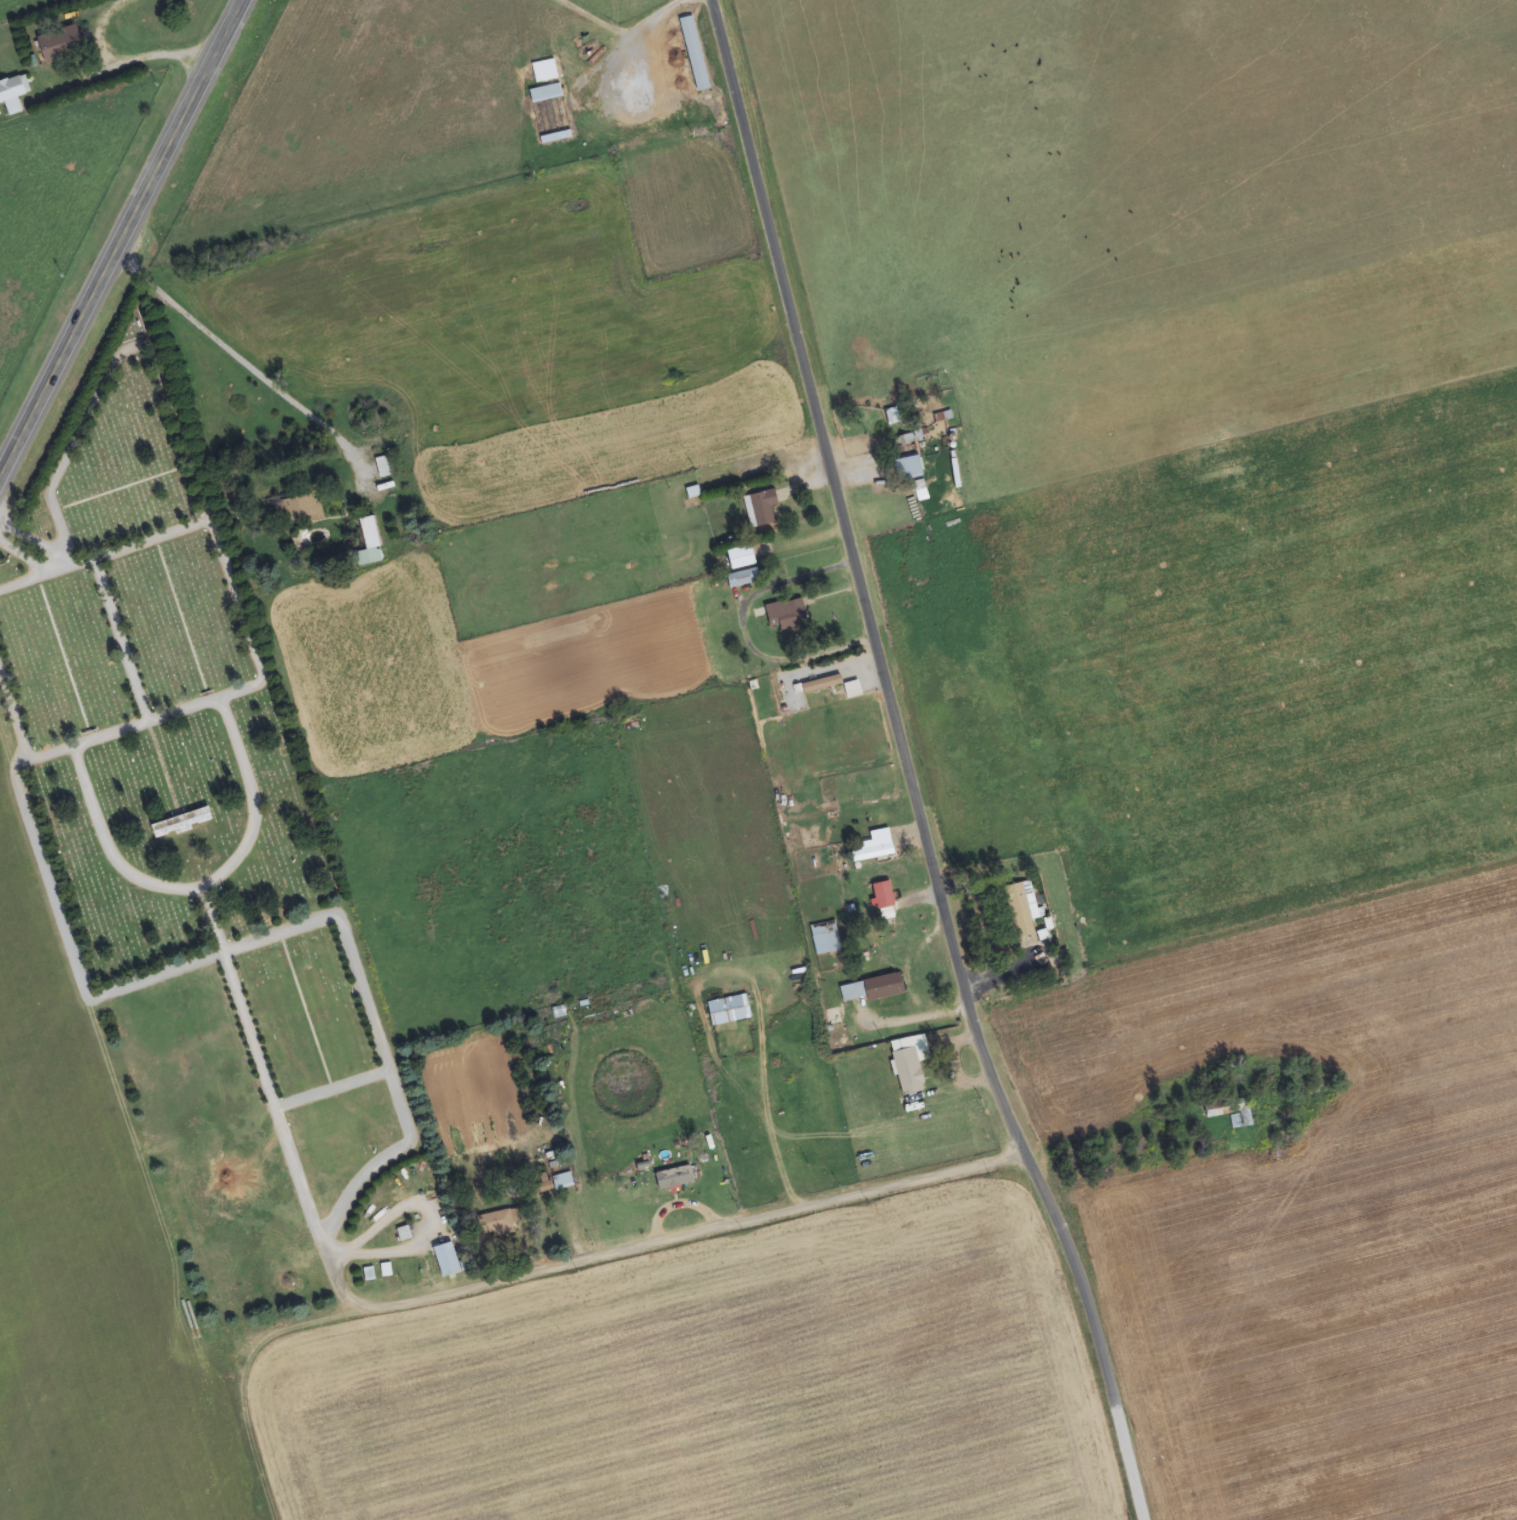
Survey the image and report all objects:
building: (65, 44)
building: (695, 55)
building: (545, 72)
building: (14, 94)
building: (546, 94)
road: (121, 237)
road: (86, 426)
building: (385, 467)
building: (909, 468)
building: (761, 508)
building: (299, 510)
road: (213, 523)
building: (370, 533)
building: (742, 557)
road: (100, 569)
building: (744, 578)
road: (48, 587)
building: (787, 614)
road: (136, 641)
building: (822, 684)
building: (853, 690)
road: (18, 702)
road: (151, 719)
road: (925, 762)
building: (183, 823)
building: (874, 854)
park: (209, 876)
road: (217, 894)
building: (885, 903)
building: (1020, 912)
building: (826, 939)
building: (870, 990)
building: (730, 1011)
building: (559, 1013)
building: (908, 1067)
building: (1214, 1111)
building: (675, 1178)
building: (563, 1182)
building: (494, 1225)
building: (447, 1261)
road: (550, 1263)

